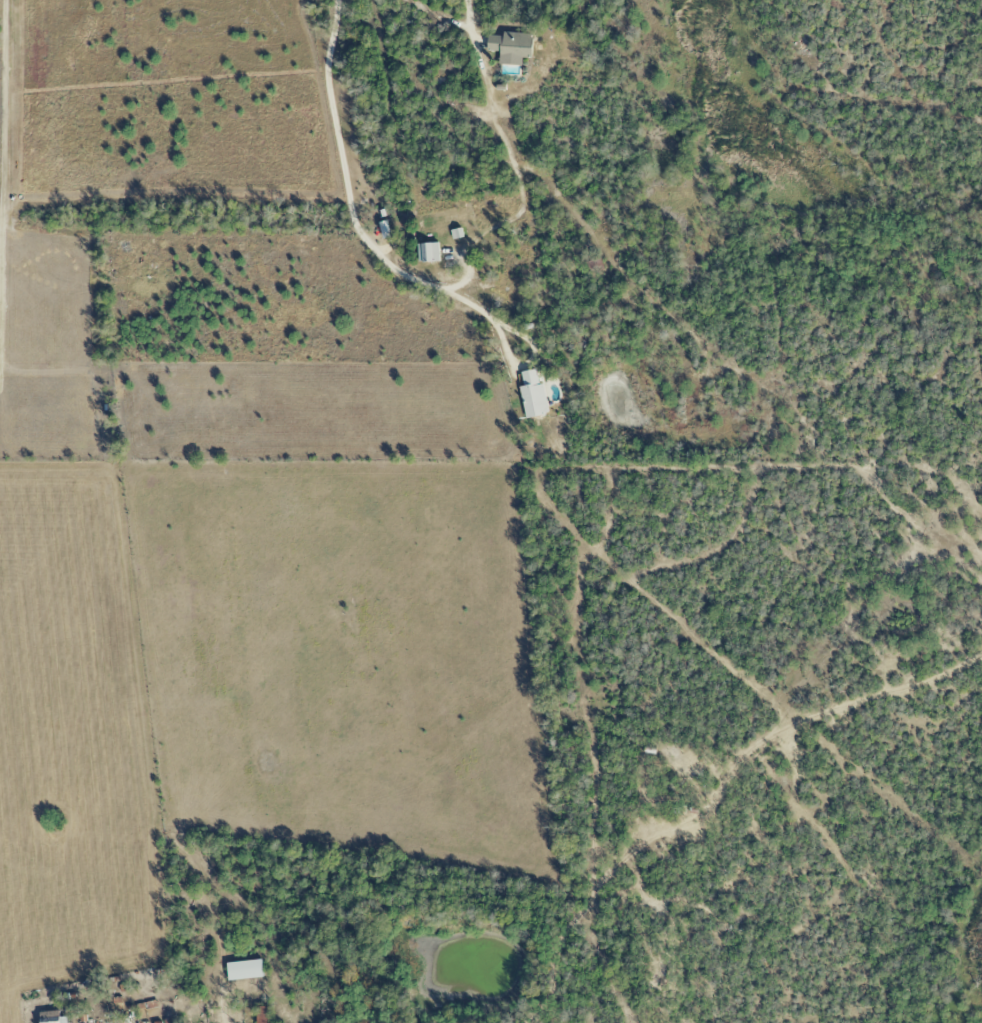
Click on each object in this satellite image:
road: (437, 16)
building: (511, 47)
road: (504, 145)
road: (349, 193)
building: (456, 233)
building: (428, 252)
road: (508, 352)
building: (533, 395)
building: (245, 970)
building: (147, 1005)
road: (228, 1008)
building: (263, 1014)
building: (52, 1017)

